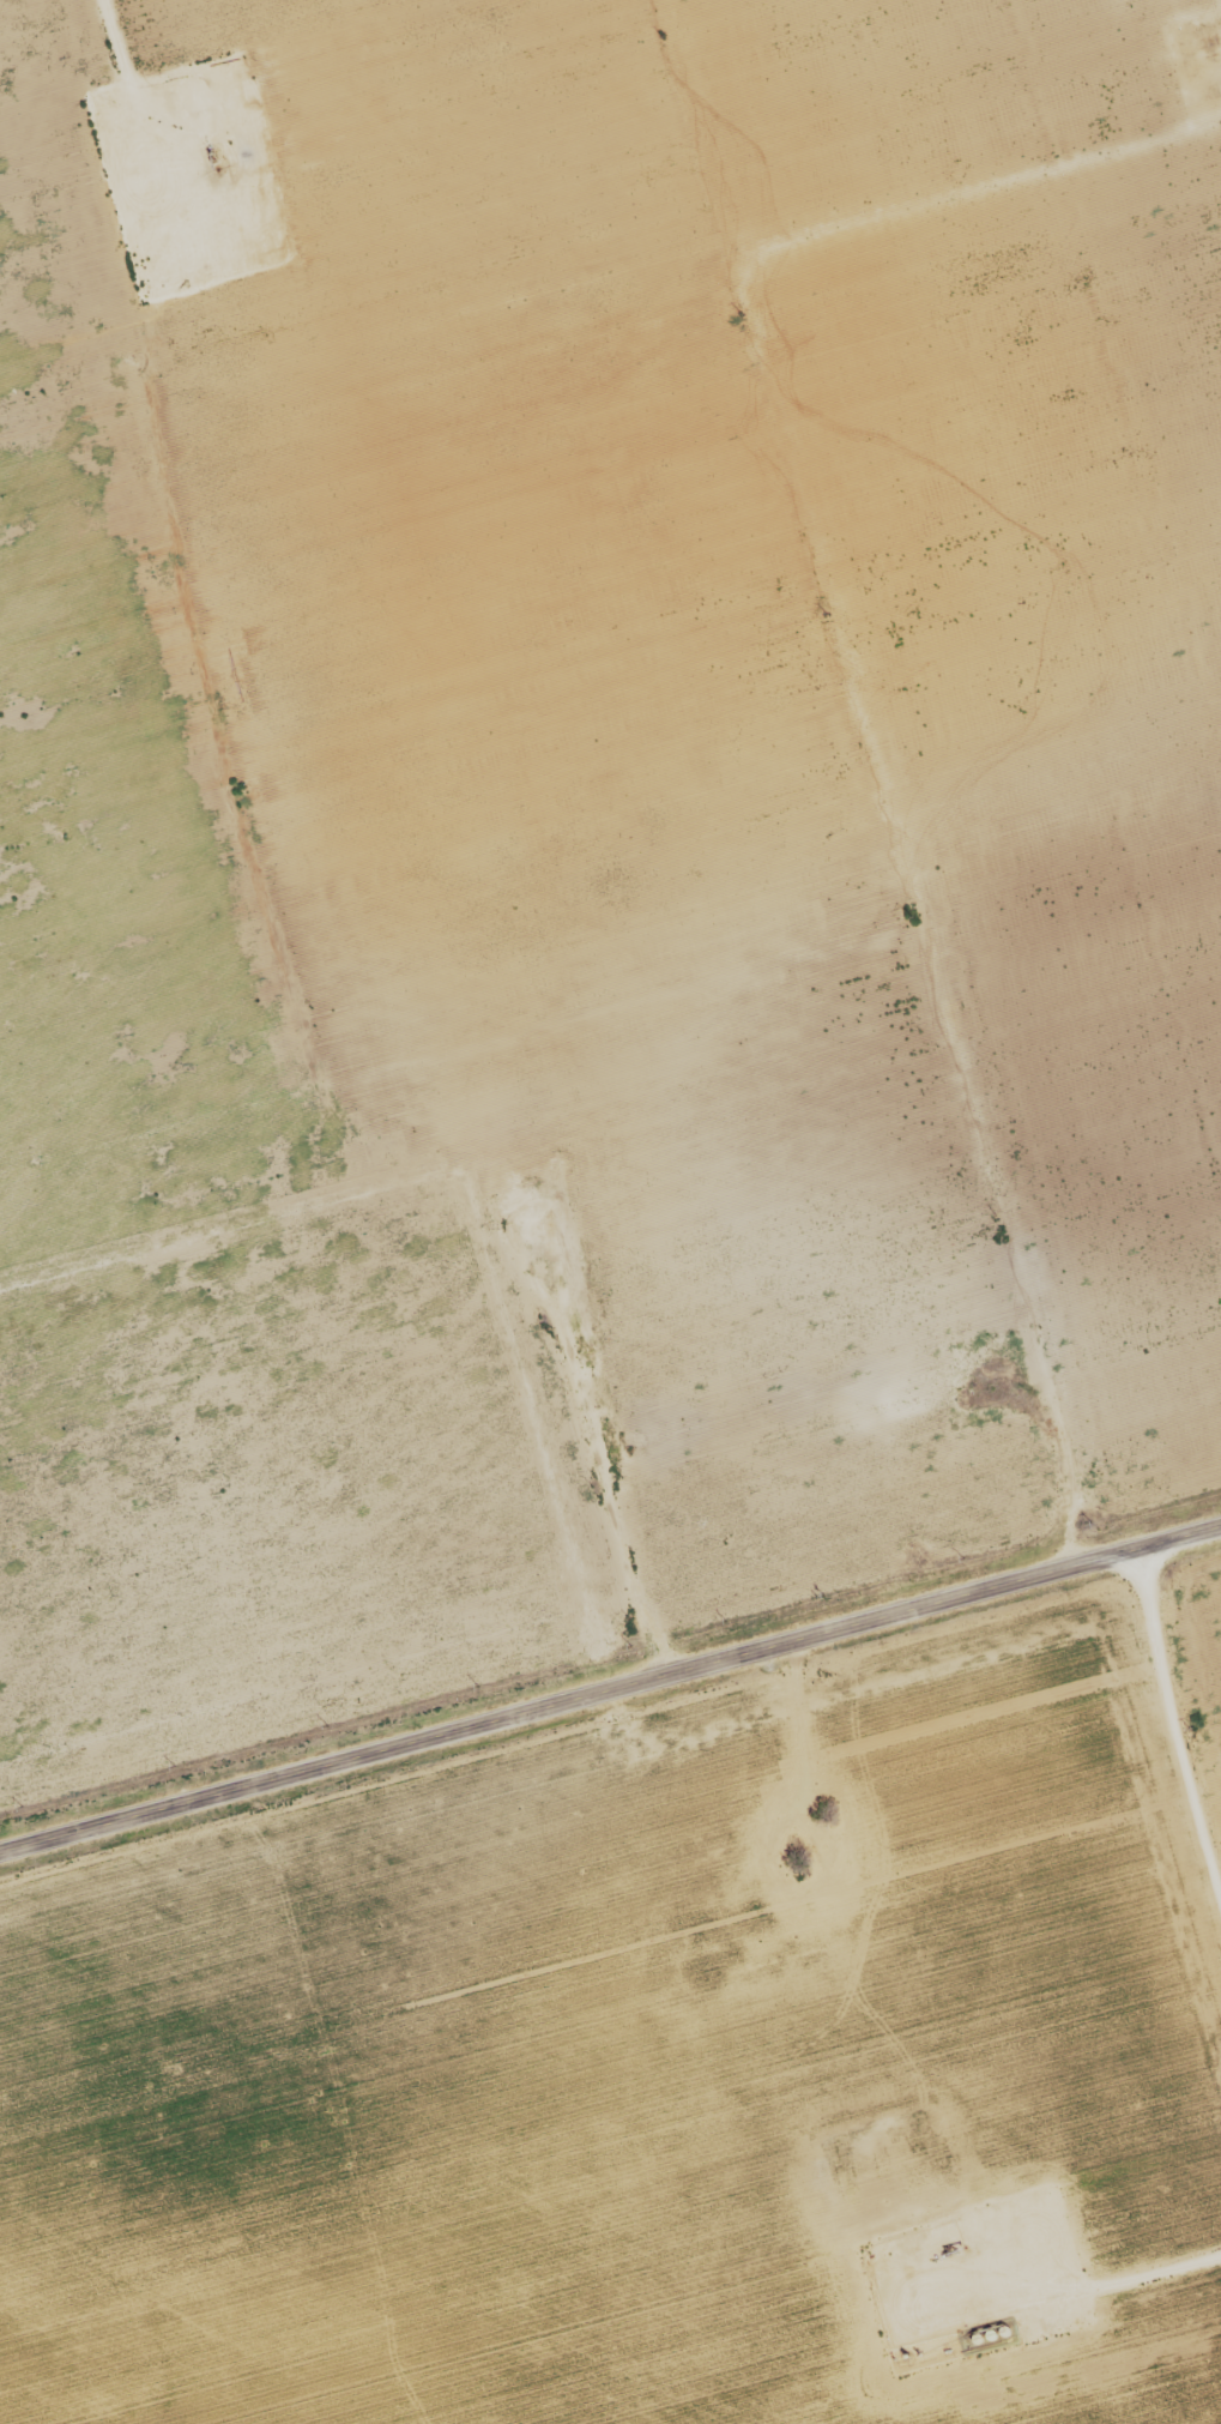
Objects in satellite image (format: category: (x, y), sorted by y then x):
road: (943, 954)
road: (610, 1696)
building: (788, 1869)
building: (709, 1974)

